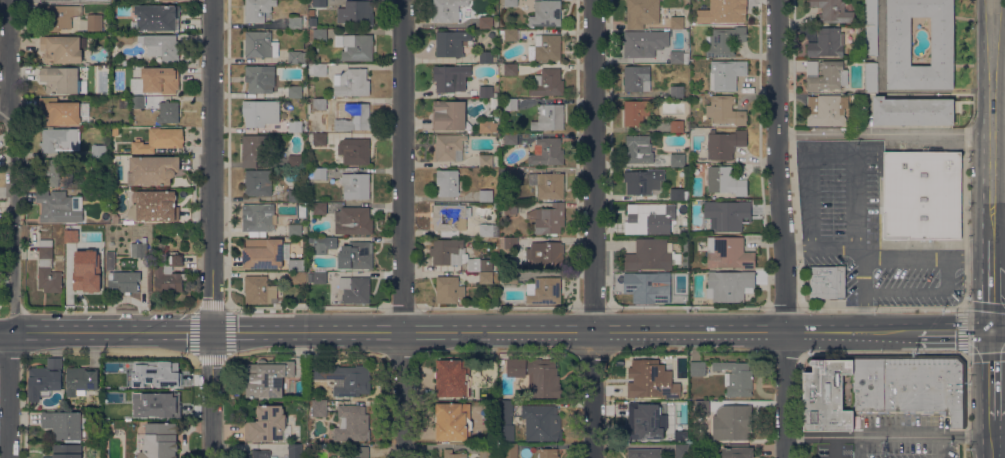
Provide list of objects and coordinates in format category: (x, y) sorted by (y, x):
building: (54, 0)
building: (172, 0)
building: (64, 1)
building: (320, 3)
building: (511, 3)
building: (258, 9)
building: (448, 10)
building: (833, 11)
building: (357, 12)
building: (723, 12)
building: (546, 13)
building: (656, 14)
building: (60, 16)
building: (157, 17)
building: (313, 21)
building: (95, 22)
building: (295, 22)
building: (486, 22)
building: (871, 27)
building: (860, 28)
building: (492, 34)
building: (511, 34)
building: (320, 35)
building: (724, 41)
building: (899, 41)
building: (451, 42)
building: (827, 43)
building: (261, 44)
building: (640, 44)
road: (882, 45)
building: (162, 46)
building: (358, 47)
building: (548, 47)
building: (657, 47)
building: (62, 49)
building: (297, 57)
building: (487, 57)
building: (680, 57)
building: (126, 62)
building: (317, 69)
building: (511, 69)
building: (726, 74)
building: (826, 75)
building: (871, 77)
building: (260, 78)
building: (161, 79)
building: (639, 79)
building: (61, 80)
building: (448, 80)
building: (352, 82)
building: (548, 83)
building: (104, 88)
building: (295, 92)
building: (486, 92)
building: (677, 92)
building: (138, 102)
building: (320, 104)
building: (493, 104)
building: (511, 104)
building: (826, 109)
building: (725, 110)
building: (913, 111)
building: (59, 112)
building: (169, 112)
building: (261, 112)
building: (636, 112)
building: (449, 115)
road: (5, 116)
building: (354, 117)
building: (549, 117)
road: (989, 120)
building: (295, 126)
building: (488, 126)
building: (678, 126)
building: (116, 131)
road: (883, 133)
building: (511, 138)
building: (60, 139)
building: (320, 139)
building: (159, 140)
building: (725, 144)
building: (450, 147)
building: (639, 149)
building: (255, 150)
road: (832, 150)
building: (101, 151)
building: (355, 151)
building: (547, 152)
building: (486, 160)
building: (678, 160)
building: (295, 161)
building: (155, 169)
building: (51, 172)
building: (318, 173)
building: (509, 173)
building: (643, 181)
building: (725, 181)
building: (259, 182)
building: (448, 182)
building: (356, 186)
building: (551, 186)
building: (508, 190)
building: (107, 194)
building: (679, 194)
building: (486, 195)
building: (923, 195)
building: (298, 196)
building: (54, 205)
building: (155, 207)
building: (320, 208)
building: (511, 208)
building: (303, 210)
building: (727, 215)
building: (114, 218)
building: (450, 218)
building: (645, 218)
building: (258, 219)
building: (548, 219)
building: (353, 221)
road: (14, 228)
road: (593, 228)
road: (781, 228)
road: (211, 229)
road: (402, 229)
building: (295, 230)
building: (487, 230)
building: (75, 233)
road: (998, 241)
building: (511, 243)
building: (324, 244)
building: (162, 245)
road: (818, 248)
building: (140, 249)
building: (447, 251)
building: (263, 253)
building: (729, 253)
building: (356, 255)
building: (545, 255)
building: (653, 255)
road: (921, 257)
building: (111, 260)
building: (479, 264)
building: (295, 265)
building: (48, 268)
building: (170, 275)
building: (320, 275)
building: (85, 276)
building: (298, 277)
building: (486, 277)
building: (511, 277)
building: (125, 282)
building: (828, 282)
building: (730, 285)
building: (648, 286)
road: (991, 286)
building: (356, 289)
road: (862, 289)
building: (259, 290)
building: (449, 290)
building: (544, 290)
road: (919, 291)
road: (963, 329)
road: (71, 331)
road: (177, 331)
traffic signals: (212, 331)
road: (608, 331)
traffic signals: (991, 332)
building: (698, 368)
building: (146, 374)
building: (536, 374)
building: (268, 377)
building: (736, 377)
building: (346, 378)
building: (454, 378)
building: (45, 379)
building: (82, 380)
building: (906, 384)
road: (991, 394)
building: (640, 397)
building: (825, 399)
building: (319, 407)
building: (162, 408)
building: (702, 408)
building: (506, 419)
building: (454, 421)
building: (352, 422)
building: (542, 422)
building: (732, 422)
building: (66, 424)
building: (267, 424)
road: (998, 430)
road: (888, 437)
building: (160, 441)
road: (942, 447)
road: (860, 448)
building: (67, 451)
building: (296, 451)
building: (487, 451)
building: (510, 451)
building: (682, 451)
building: (702, 451)
building: (738, 451)
building: (360, 452)
road: (998, 452)
building: (548, 453)
building: (644, 453)
building: (261, 454)
building: (453, 454)

